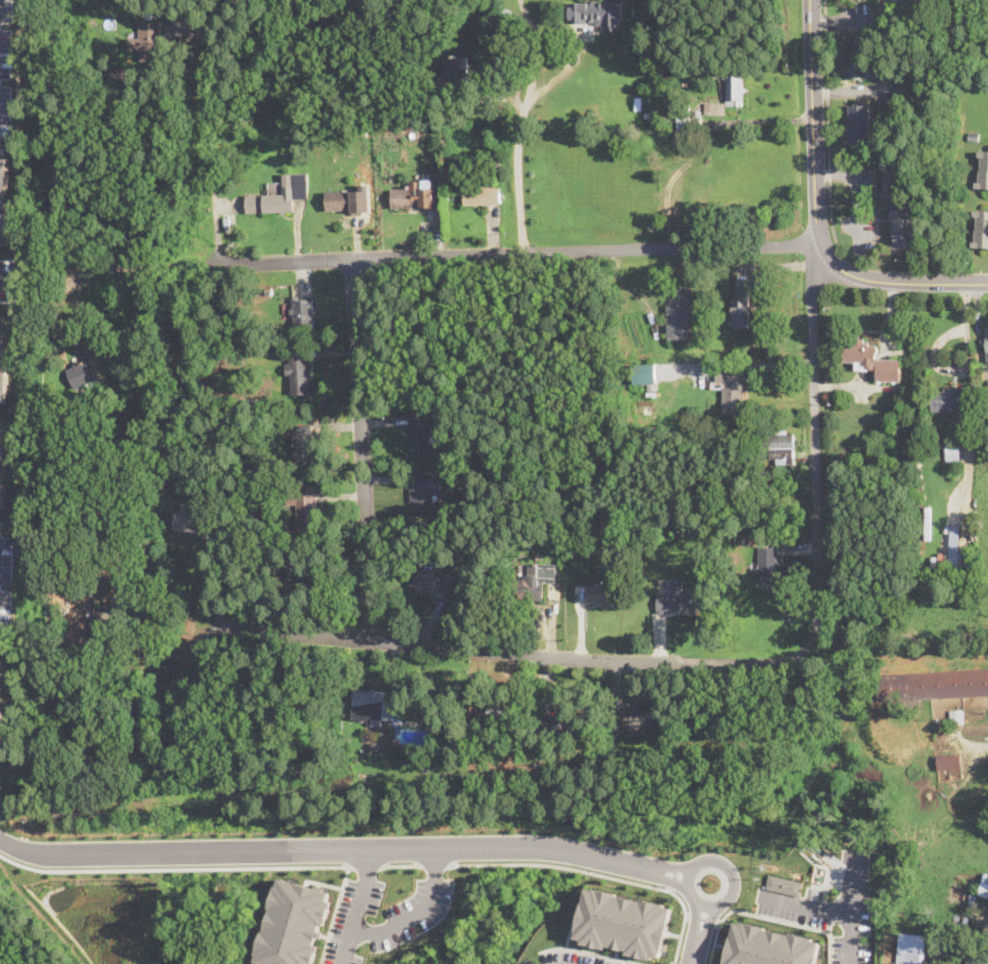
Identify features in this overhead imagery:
building: (932, 2)
building: (545, 9)
building: (604, 10)
building: (145, 42)
building: (857, 58)
parking lot: (6, 67)
building: (882, 68)
building: (457, 69)
building: (657, 70)
road: (560, 74)
building: (101, 78)
building: (117, 78)
building: (732, 81)
building: (686, 84)
building: (638, 104)
building: (423, 105)
building: (715, 108)
building: (649, 115)
building: (884, 116)
building: (426, 119)
road: (827, 120)
building: (689, 123)
building: (860, 124)
road: (517, 125)
building: (669, 127)
building: (361, 132)
building: (973, 136)
road: (210, 144)
road: (2, 149)
building: (482, 156)
building: (495, 165)
building: (983, 170)
building: (894, 178)
road: (858, 189)
building: (481, 194)
building: (413, 197)
building: (4, 198)
building: (273, 199)
building: (343, 201)
road: (815, 215)
building: (903, 230)
building: (981, 230)
road: (515, 252)
road: (6, 259)
road: (130, 266)
road: (7, 278)
parking lot: (8, 279)
building: (269, 290)
building: (688, 291)
road: (8, 299)
building: (741, 306)
building: (303, 314)
building: (678, 322)
building: (74, 328)
building: (987, 342)
building: (4, 358)
building: (871, 360)
road: (766, 365)
building: (82, 374)
building: (298, 376)
building: (648, 380)
building: (982, 387)
building: (731, 392)
building: (52, 398)
building: (948, 399)
building: (654, 402)
building: (247, 403)
building: (627, 403)
building: (45, 421)
building: (246, 429)
building: (421, 432)
building: (302, 444)
road: (815, 444)
building: (782, 445)
building: (952, 448)
road: (361, 449)
building: (800, 455)
building: (3, 466)
building: (757, 466)
building: (792, 477)
building: (496, 480)
building: (762, 480)
building: (284, 481)
building: (758, 487)
building: (793, 489)
building: (421, 493)
building: (216, 497)
building: (304, 506)
building: (193, 520)
building: (617, 536)
building: (625, 552)
building: (955, 553)
parking lot: (5, 559)
building: (766, 566)
building: (313, 578)
building: (436, 584)
building: (530, 584)
building: (605, 596)
building: (678, 600)
parking lot: (5, 613)
building: (102, 628)
road: (297, 633)
road: (197, 644)
road: (3, 649)
road: (596, 659)
building: (930, 685)
building: (0, 686)
building: (373, 706)
building: (504, 712)
building: (638, 718)
building: (107, 720)
building: (555, 721)
building: (430, 722)
building: (439, 722)
building: (569, 723)
building: (613, 734)
building: (395, 744)
building: (949, 762)
building: (598, 766)
building: (359, 791)
road: (355, 849)
road: (402, 864)
road: (436, 864)
road: (365, 865)
road: (172, 868)
road: (601, 873)
building: (781, 885)
building: (985, 887)
building: (972, 900)
road: (357, 906)
road: (807, 907)
road: (849, 910)
road: (417, 913)
road: (334, 914)
road: (766, 916)
road: (702, 919)
parking lot: (351, 921)
building: (625, 922)
road: (701, 922)
building: (294, 923)
building: (763, 943)
building: (911, 949)
road: (592, 951)
parking lot: (576, 958)
building: (976, 959)
parking lot: (530, 963)

